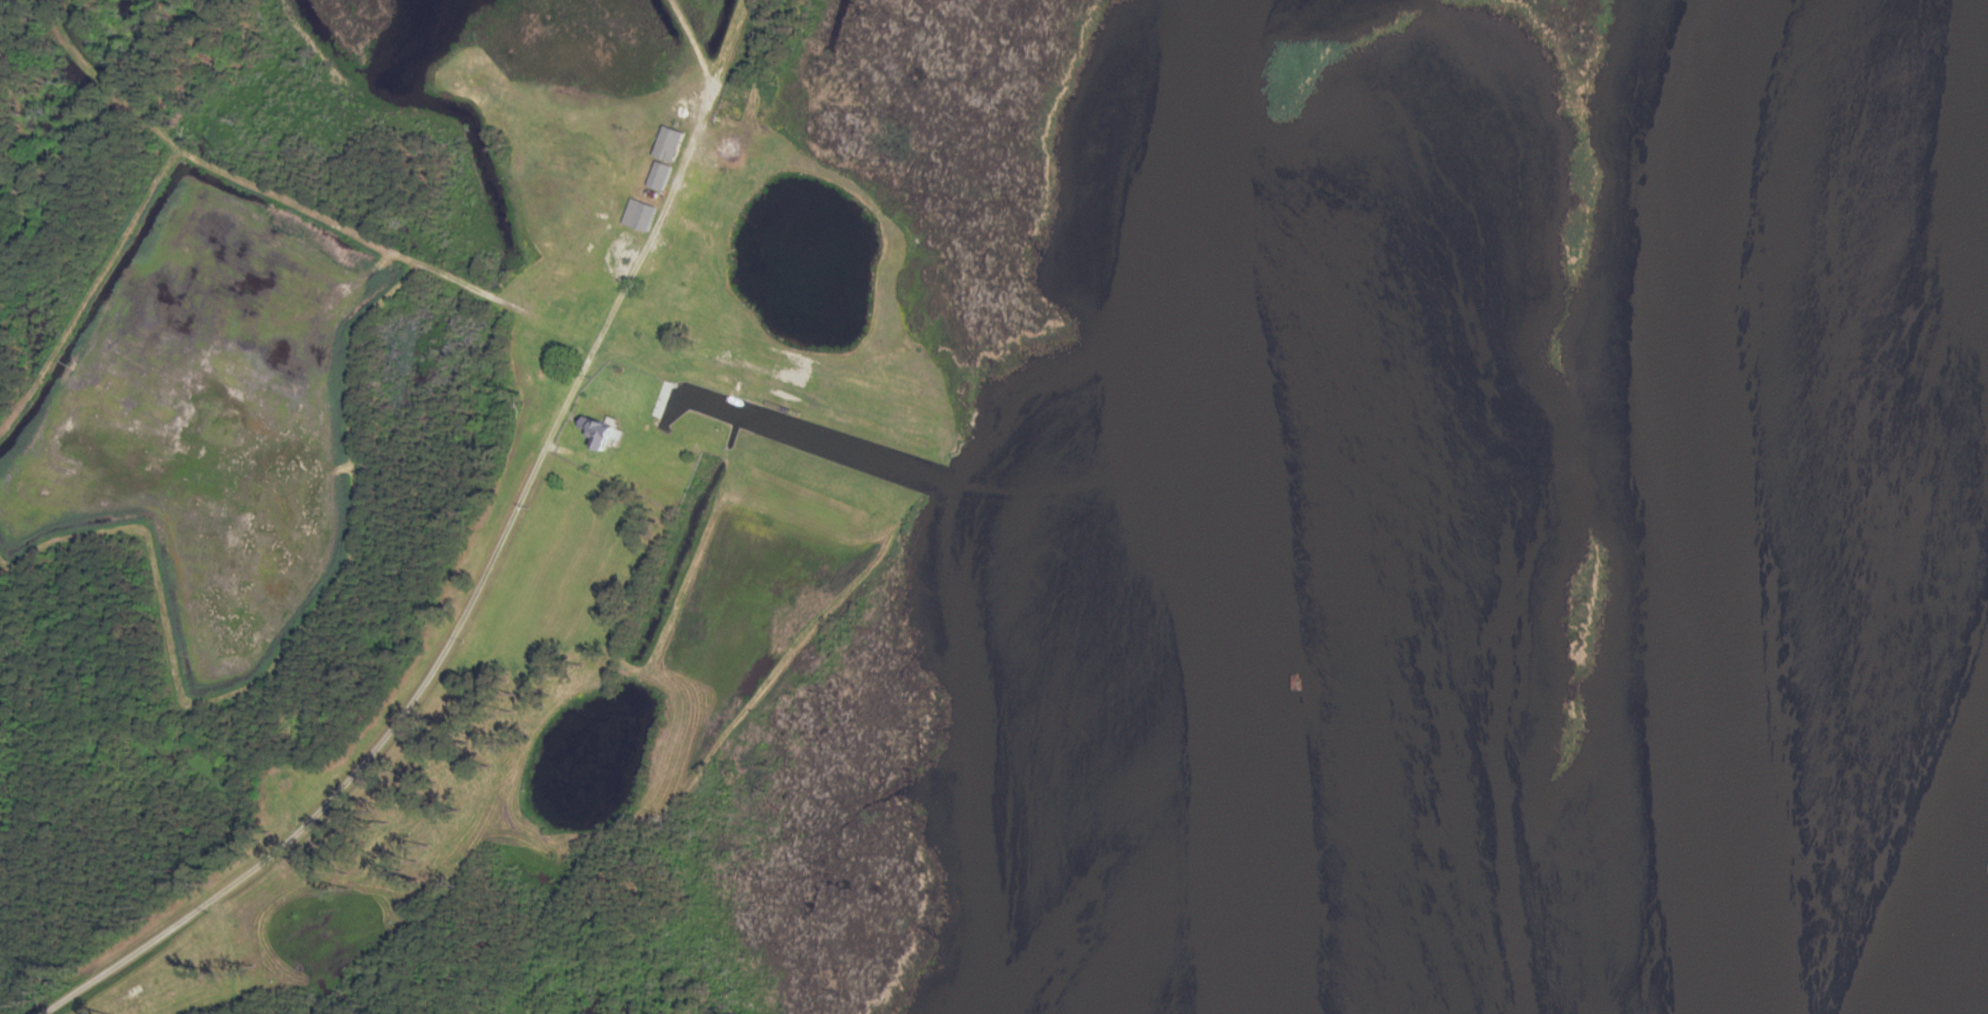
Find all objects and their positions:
road: (692, 41)
road: (723, 52)
building: (669, 143)
building: (659, 175)
road: (296, 205)
building: (639, 214)
road: (651, 239)
building: (596, 431)
road: (589, 461)
road: (379, 744)

